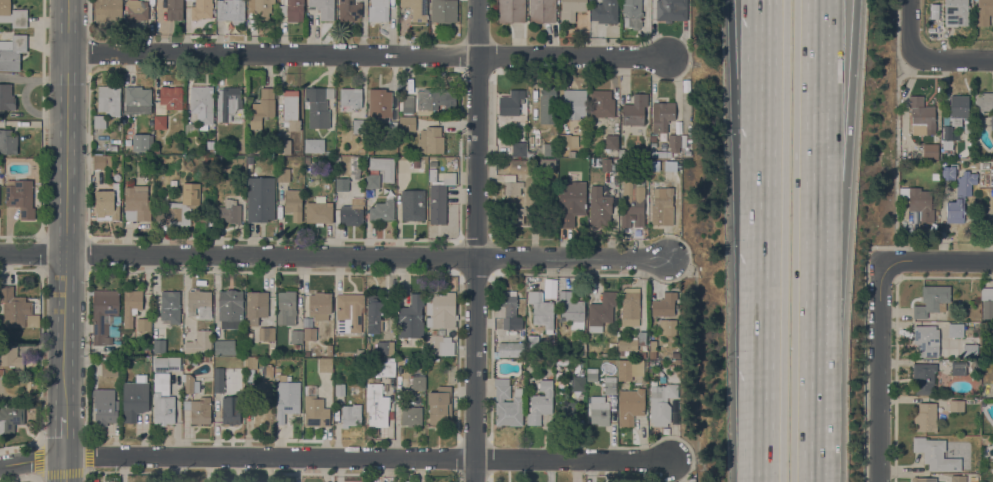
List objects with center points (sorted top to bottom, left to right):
building: (263, 8)
building: (324, 8)
building: (108, 9)
building: (137, 9)
building: (174, 9)
building: (201, 9)
building: (417, 9)
building: (571, 9)
building: (231, 10)
building: (292, 10)
building: (349, 10)
building: (378, 10)
building: (511, 10)
building: (671, 10)
building: (444, 11)
building: (542, 11)
building: (605, 11)
building: (935, 11)
building: (983, 12)
building: (632, 13)
building: (956, 13)
building: (12, 14)
building: (403, 14)
road: (909, 27)
road: (758, 39)
road: (771, 39)
building: (12, 52)
road: (366, 55)
road: (953, 59)
building: (686, 85)
road: (810, 90)
road: (826, 90)
building: (137, 96)
building: (171, 96)
building: (6, 98)
building: (431, 98)
building: (109, 99)
building: (350, 99)
building: (408, 101)
building: (228, 102)
building: (575, 102)
building: (983, 102)
building: (379, 103)
building: (601, 103)
building: (317, 105)
building: (548, 105)
building: (510, 106)
building: (958, 106)
building: (262, 107)
building: (200, 108)
building: (291, 109)
building: (634, 110)
building: (662, 115)
building: (921, 116)
road: (771, 120)
building: (99, 121)
building: (159, 121)
building: (991, 121)
building: (407, 123)
building: (359, 126)
building: (393, 126)
building: (678, 127)
building: (947, 133)
building: (662, 137)
building: (653, 138)
building: (936, 138)
building: (431, 140)
building: (567, 140)
building: (676, 141)
building: (8, 142)
building: (611, 142)
building: (210, 144)
building: (314, 145)
building: (146, 146)
building: (284, 146)
building: (112, 148)
building: (519, 149)
building: (550, 149)
building: (559, 151)
building: (930, 151)
building: (571, 153)
building: (687, 153)
road: (895, 153)
building: (530, 154)
building: (661, 154)
building: (218, 159)
building: (249, 159)
building: (281, 159)
building: (100, 161)
building: (416, 163)
building: (547, 163)
building: (606, 164)
building: (519, 165)
building: (383, 167)
building: (677, 167)
building: (356, 168)
building: (947, 173)
building: (283, 174)
building: (935, 176)
building: (372, 180)
building: (341, 183)
building: (512, 185)
building: (21, 197)
building: (960, 197)
building: (260, 198)
building: (439, 198)
building: (570, 201)
building: (919, 201)
building: (107, 203)
building: (136, 203)
building: (293, 203)
building: (412, 204)
building: (632, 204)
building: (180, 206)
building: (599, 207)
road: (64, 208)
building: (662, 208)
building: (382, 210)
building: (229, 211)
building: (318, 211)
building: (351, 214)
building: (516, 214)
road: (474, 240)
road: (32, 252)
road: (365, 255)
road: (938, 259)
building: (530, 282)
building: (550, 290)
building: (932, 300)
building: (987, 301)
building: (199, 303)
building: (664, 304)
building: (319, 305)
building: (131, 306)
building: (256, 306)
building: (630, 306)
building: (169, 307)
building: (286, 307)
building: (230, 308)
building: (16, 309)
building: (600, 309)
building: (441, 310)
building: (508, 310)
building: (541, 310)
building: (571, 310)
building: (349, 312)
building: (103, 313)
building: (375, 314)
building: (411, 317)
road: (769, 322)
building: (143, 324)
building: (667, 326)
building: (955, 330)
road: (808, 331)
building: (266, 333)
building: (309, 333)
building: (296, 335)
building: (203, 339)
building: (926, 340)
building: (439, 344)
building: (627, 344)
building: (158, 345)
building: (532, 345)
building: (297, 346)
building: (225, 347)
building: (388, 347)
building: (613, 347)
building: (145, 349)
building: (329, 349)
building: (510, 349)
building: (582, 349)
building: (970, 351)
building: (359, 352)
building: (623, 352)
building: (306, 353)
building: (652, 353)
building: (672, 353)
building: (642, 354)
building: (11, 357)
building: (192, 362)
building: (250, 362)
building: (166, 364)
building: (325, 365)
building: (386, 367)
building: (958, 367)
building: (975, 367)
building: (109, 368)
building: (629, 368)
building: (267, 371)
road: (879, 373)
building: (249, 374)
building: (591, 374)
building: (923, 377)
building: (218, 379)
building: (418, 382)
building: (190, 383)
building: (578, 383)
building: (609, 385)
building: (340, 389)
building: (264, 390)
building: (578, 396)
building: (287, 397)
building: (135, 398)
building: (163, 400)
building: (540, 402)
building: (614, 402)
building: (439, 403)
building: (661, 403)
building: (507, 404)
building: (376, 405)
building: (630, 405)
building: (956, 405)
building: (105, 406)
building: (198, 409)
building: (230, 409)
building: (599, 410)
building: (315, 411)
building: (567, 412)
building: (351, 415)
building: (411, 415)
building: (10, 417)
building: (925, 417)
road: (63, 436)
building: (935, 454)
road: (334, 456)
road: (62, 468)
building: (958, 478)
building: (923, 479)
building: (973, 479)

